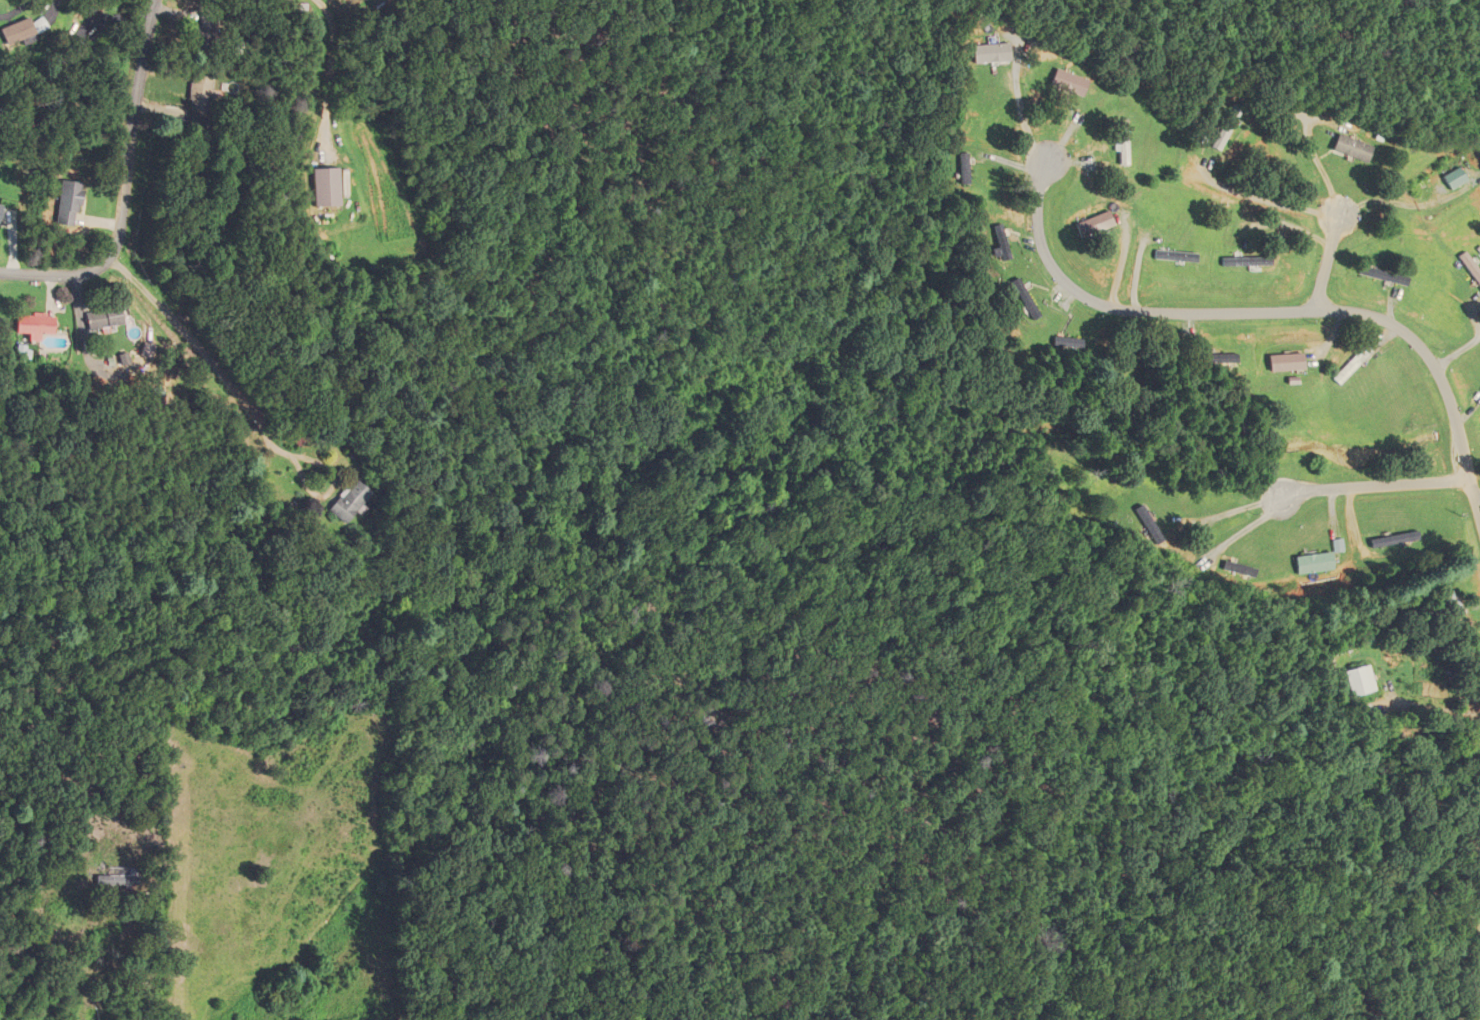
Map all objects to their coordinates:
building: (19, 32)
building: (205, 32)
building: (990, 53)
building: (68, 64)
building: (1065, 83)
building: (201, 101)
building: (1223, 133)
building: (1124, 145)
building: (1353, 148)
building: (962, 168)
building: (1458, 178)
road: (126, 186)
building: (330, 187)
building: (70, 203)
building: (1, 209)
building: (1095, 228)
building: (1000, 244)
building: (1180, 255)
road: (1328, 261)
building: (1474, 261)
building: (1246, 262)
building: (1384, 275)
road: (1263, 312)
building: (104, 318)
building: (37, 325)
building: (1069, 343)
road: (203, 350)
road: (1457, 352)
building: (1225, 360)
building: (1290, 364)
building: (1358, 365)
road: (1380, 486)
building: (352, 502)
building: (1404, 542)
building: (1324, 565)
building: (1362, 681)
building: (121, 877)

